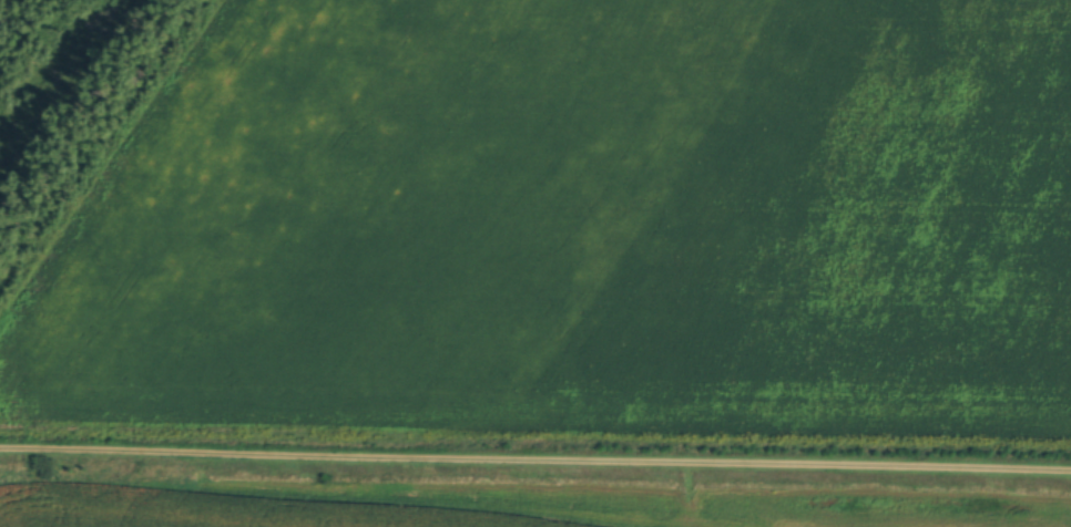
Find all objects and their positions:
road: (535, 463)

